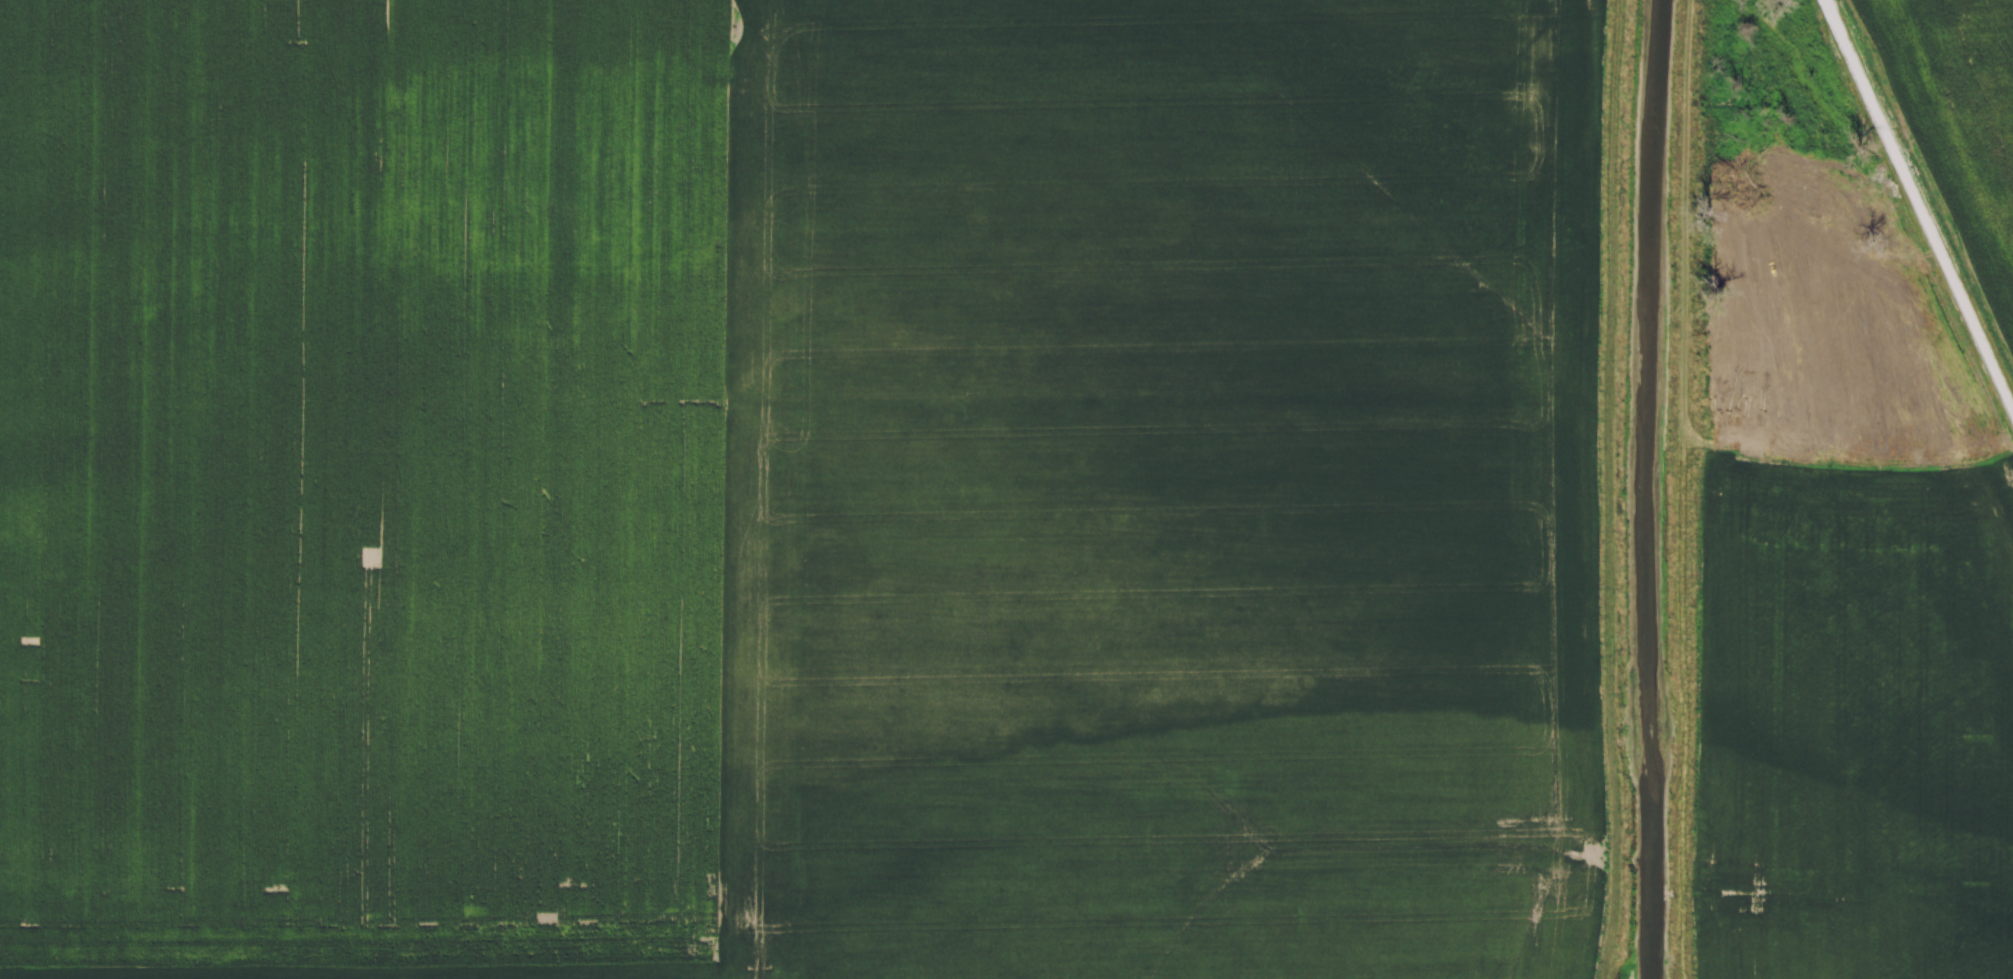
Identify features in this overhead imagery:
road: (1919, 207)

